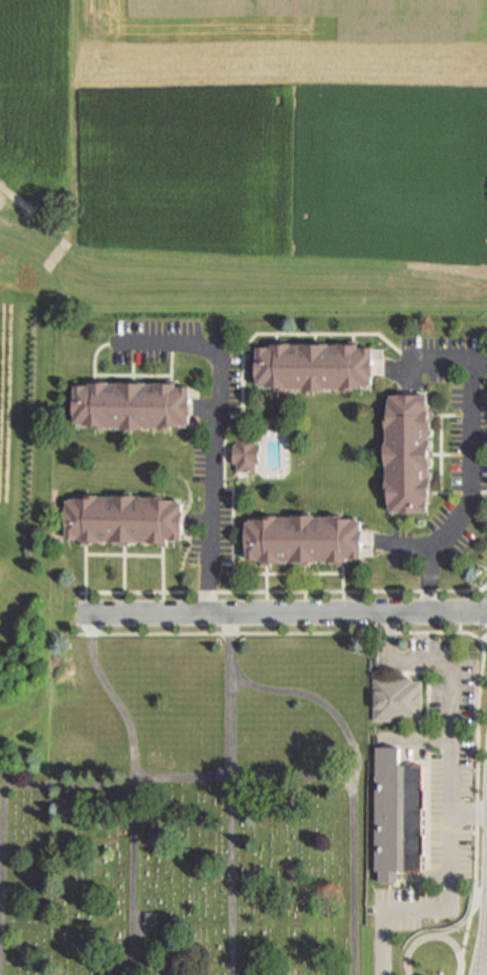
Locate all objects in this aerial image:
road: (19, 201)
crop: (214, 208)
road: (238, 348)
road: (95, 358)
road: (429, 358)
road: (173, 366)
building: (316, 367)
road: (392, 370)
road: (134, 372)
road: (134, 376)
building: (134, 407)
road: (204, 409)
road: (446, 416)
road: (230, 431)
road: (214, 436)
building: (247, 455)
building: (410, 455)
road: (443, 455)
road: (445, 455)
road: (446, 493)
road: (485, 493)
road: (469, 495)
building: (125, 521)
road: (196, 521)
building: (305, 541)
road: (125, 556)
road: (86, 574)
road: (125, 574)
road: (163, 575)
road: (431, 580)
road: (345, 583)
road: (267, 584)
road: (306, 584)
road: (284, 592)
street lamp: (81, 598)
road: (285, 613)
road: (437, 633)
road: (484, 640)
road: (113, 695)
road: (231, 695)
road: (318, 700)
building: (399, 701)
road: (450, 761)
road: (177, 778)
parking lot: (440, 778)
park: (191, 811)
road: (468, 812)
building: (399, 817)
road: (354, 875)
road: (133, 876)
road: (231, 876)
road: (2, 882)
road: (483, 934)
road: (465, 935)
road: (433, 936)
road: (383, 942)

